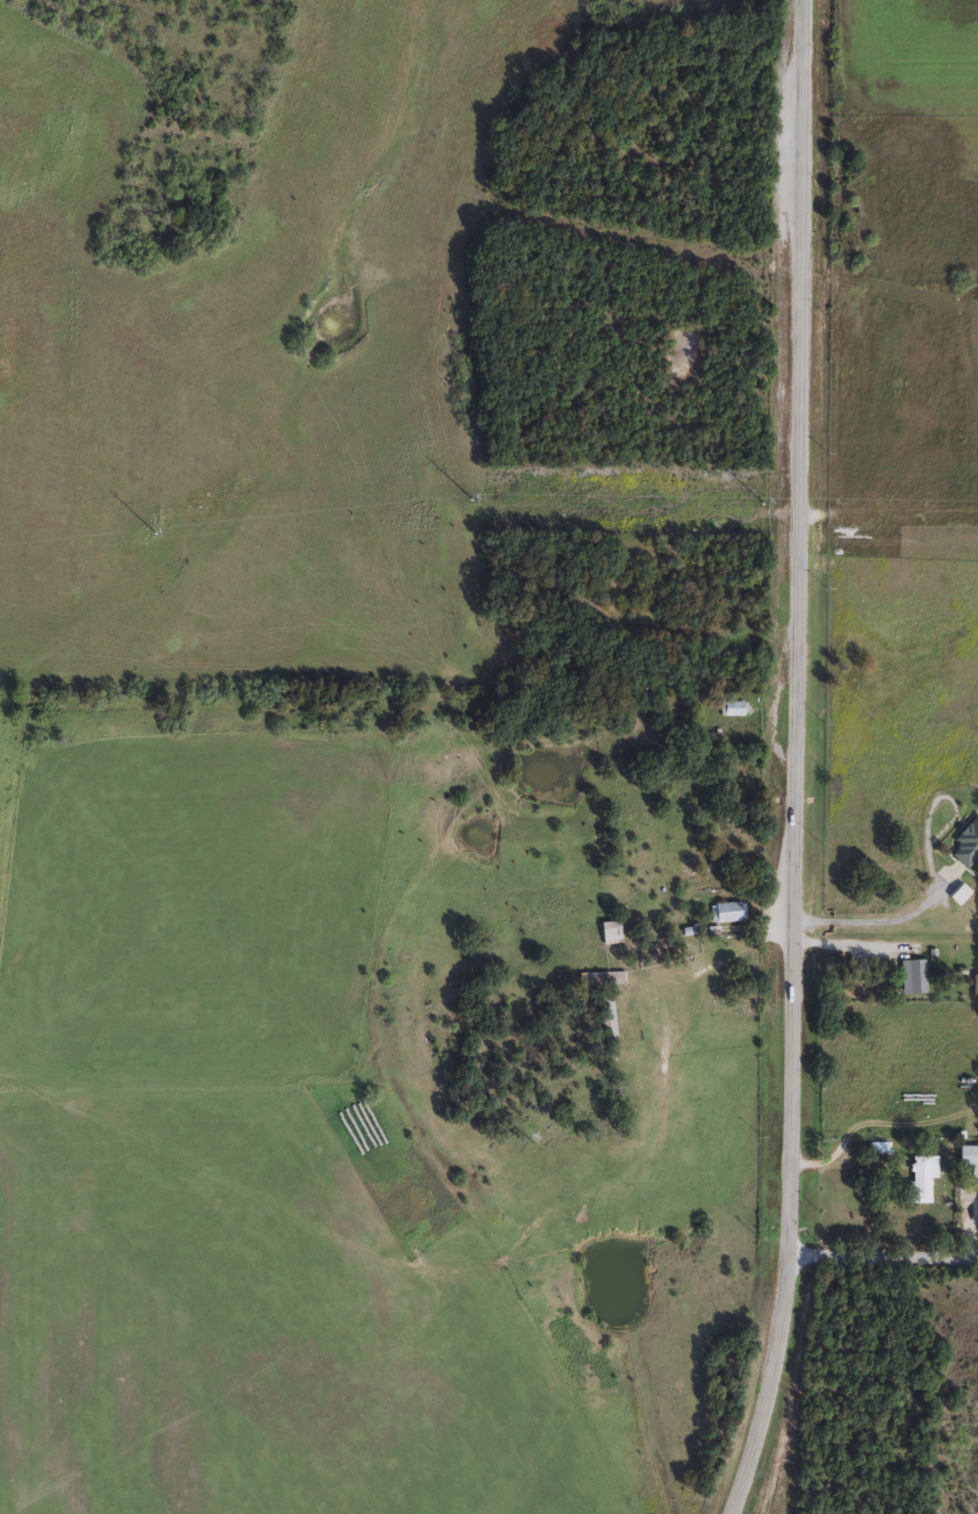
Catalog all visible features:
building: (732, 707)
road: (797, 760)
building: (966, 842)
building: (726, 911)
building: (611, 931)
building: (912, 975)
building: (601, 977)
building: (605, 1020)
building: (879, 1148)
building: (969, 1157)
building: (921, 1178)
road: (883, 1255)

